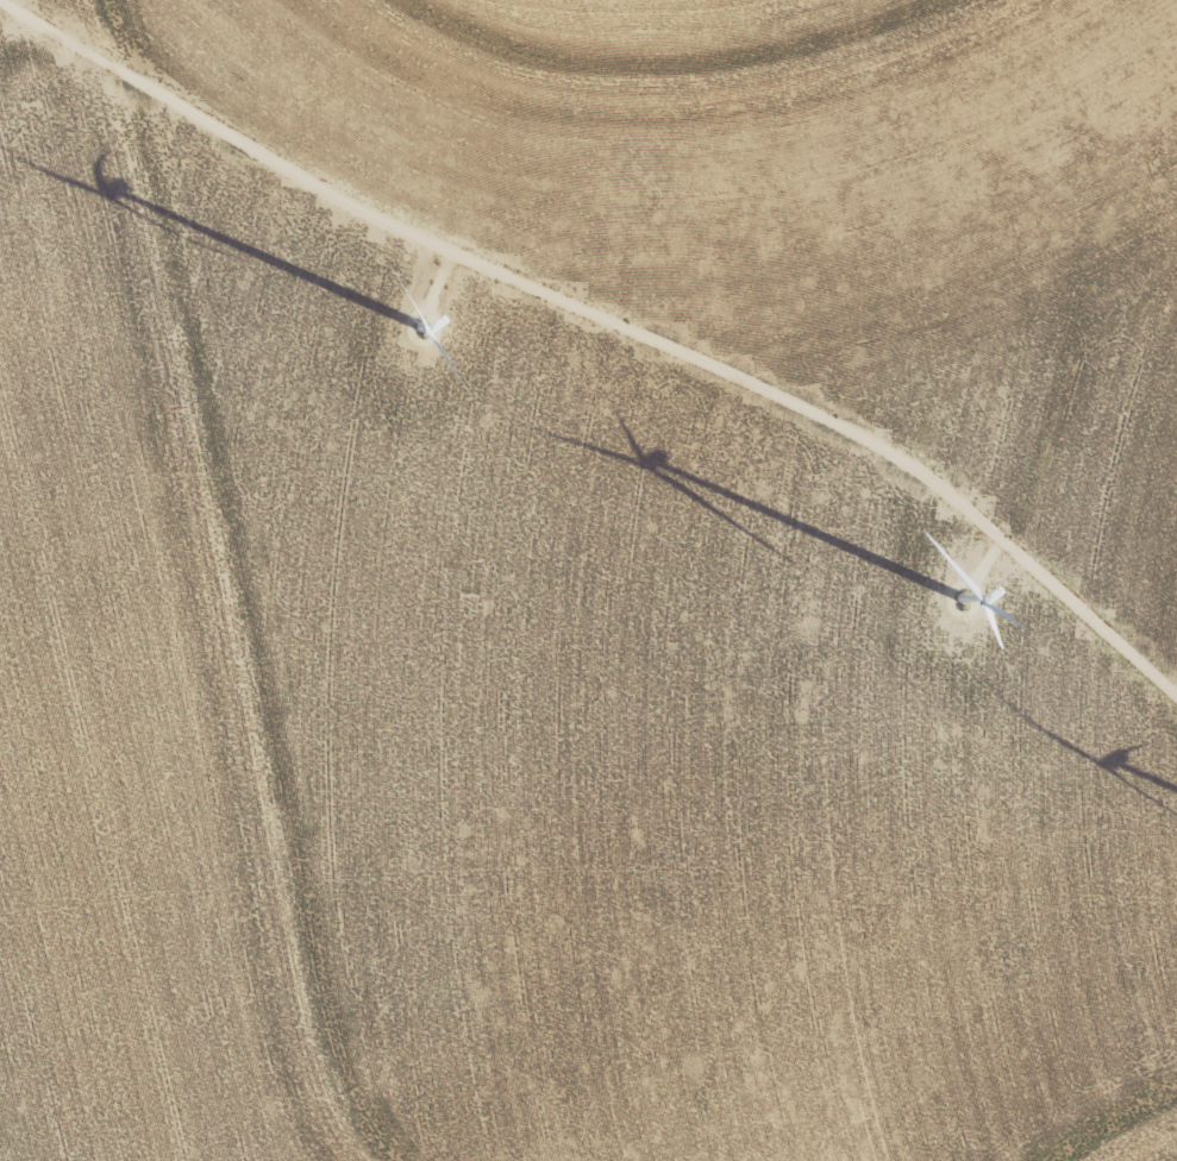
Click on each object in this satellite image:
wind turbine: (421, 321)
road: (608, 324)
wind turbine: (960, 600)

